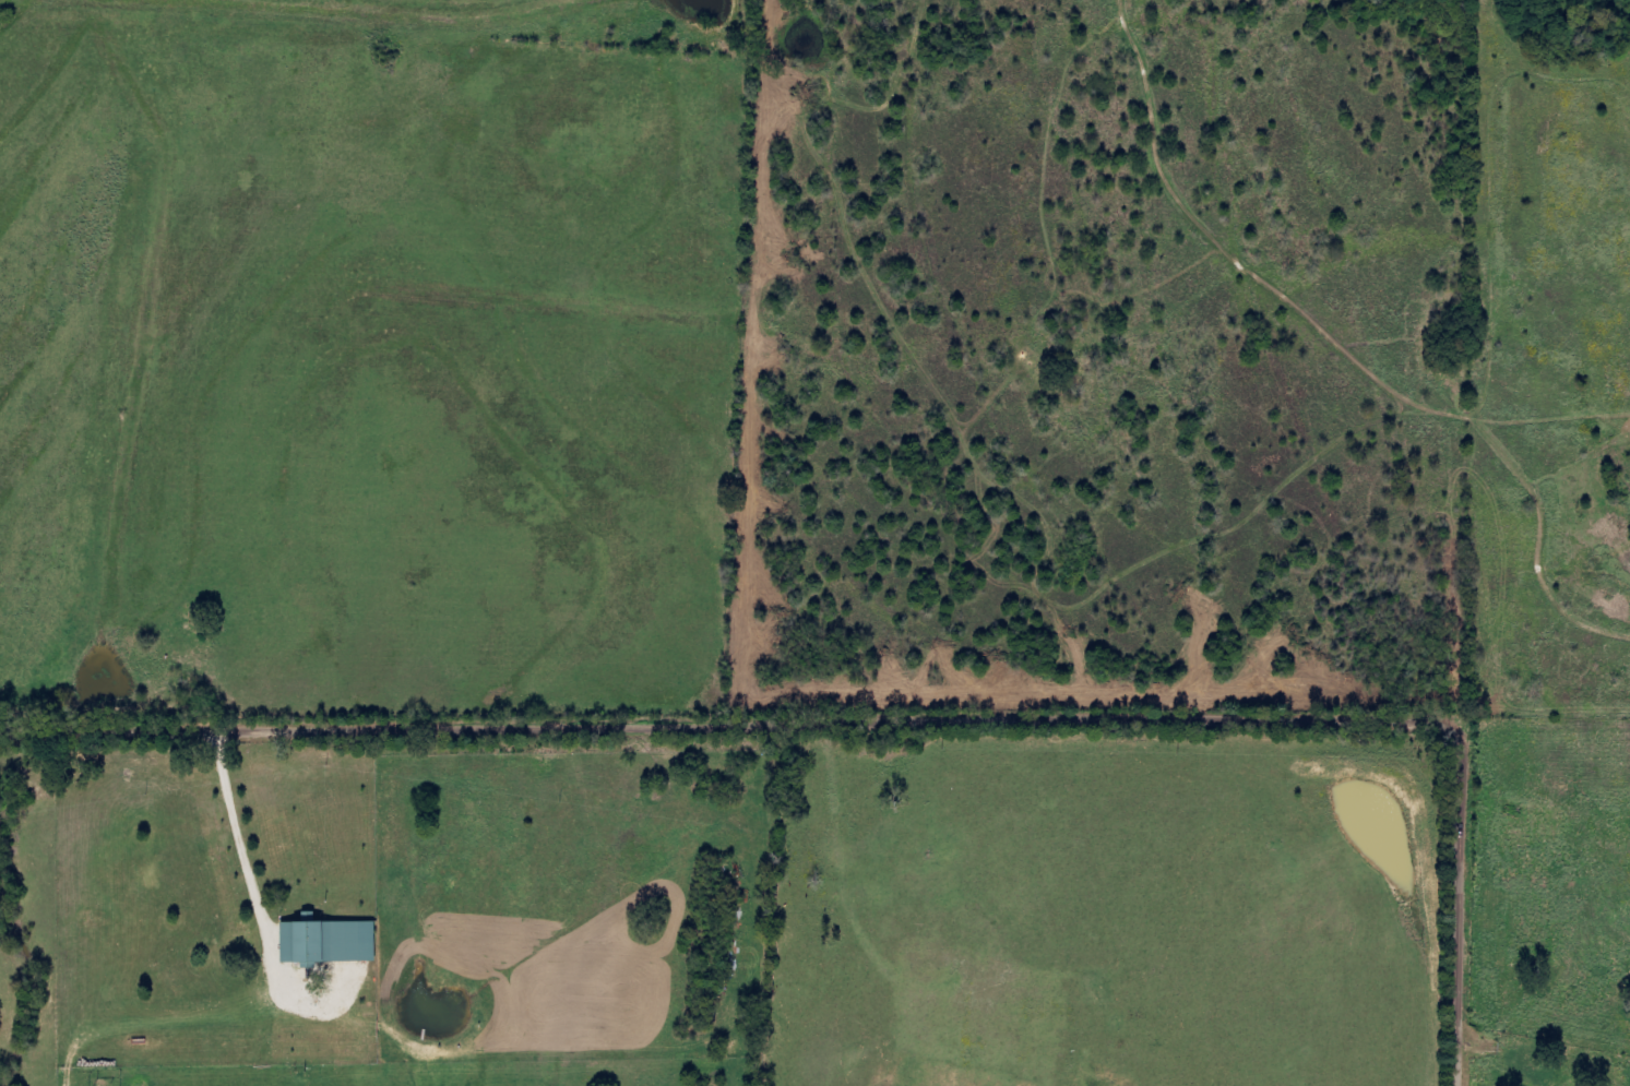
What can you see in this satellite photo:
road: (891, 729)
building: (335, 942)

